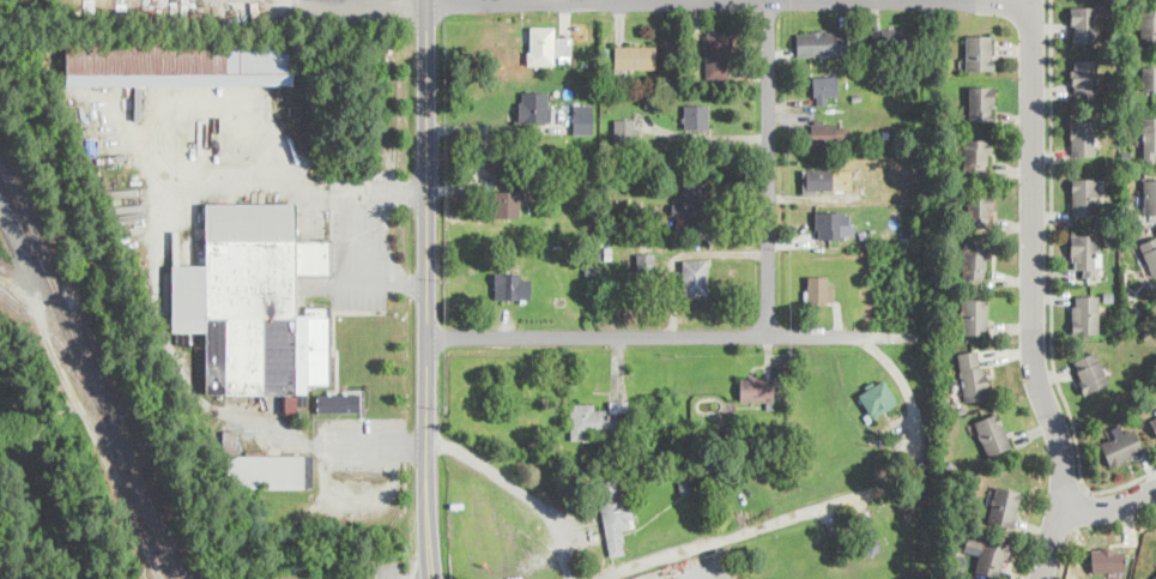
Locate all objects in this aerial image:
road: (416, 0)
road: (730, 1)
road: (285, 4)
building: (1082, 22)
building: (1148, 24)
building: (895, 40)
building: (821, 41)
building: (540, 44)
building: (562, 44)
building: (979, 50)
building: (635, 55)
building: (716, 56)
building: (178, 61)
building: (1148, 77)
building: (1083, 78)
building: (824, 86)
building: (980, 102)
building: (533, 104)
building: (695, 115)
building: (581, 116)
building: (623, 131)
building: (829, 131)
building: (1148, 135)
building: (1082, 137)
road: (706, 138)
road: (428, 141)
building: (975, 155)
road: (768, 169)
building: (819, 179)
road: (397, 188)
building: (1084, 195)
building: (1149, 195)
building: (507, 203)
building: (691, 203)
building: (980, 209)
railway: (19, 217)
road: (1033, 218)
building: (829, 224)
road: (364, 235)
parking lot: (365, 236)
building: (1083, 252)
building: (1149, 252)
building: (644, 260)
building: (975, 260)
building: (695, 275)
road: (395, 283)
building: (512, 284)
road: (1052, 284)
building: (818, 288)
building: (254, 302)
building: (1084, 313)
building: (974, 314)
road: (652, 336)
railway: (71, 360)
building: (1089, 370)
railway: (90, 372)
building: (973, 374)
building: (756, 388)
building: (877, 396)
building: (293, 400)
building: (339, 400)
building: (597, 417)
building: (1154, 423)
road: (426, 432)
building: (992, 432)
building: (230, 439)
road: (326, 445)
building: (1120, 446)
building: (270, 470)
road: (519, 490)
road: (817, 503)
building: (1003, 505)
road: (1079, 506)
road: (1061, 507)
road: (1110, 512)
building: (613, 513)
building: (868, 542)
road: (1065, 550)
building: (989, 555)
building: (1107, 559)
parking lot: (388, 568)
parking lot: (592, 574)
parking lot: (322, 575)
building: (1154, 577)

